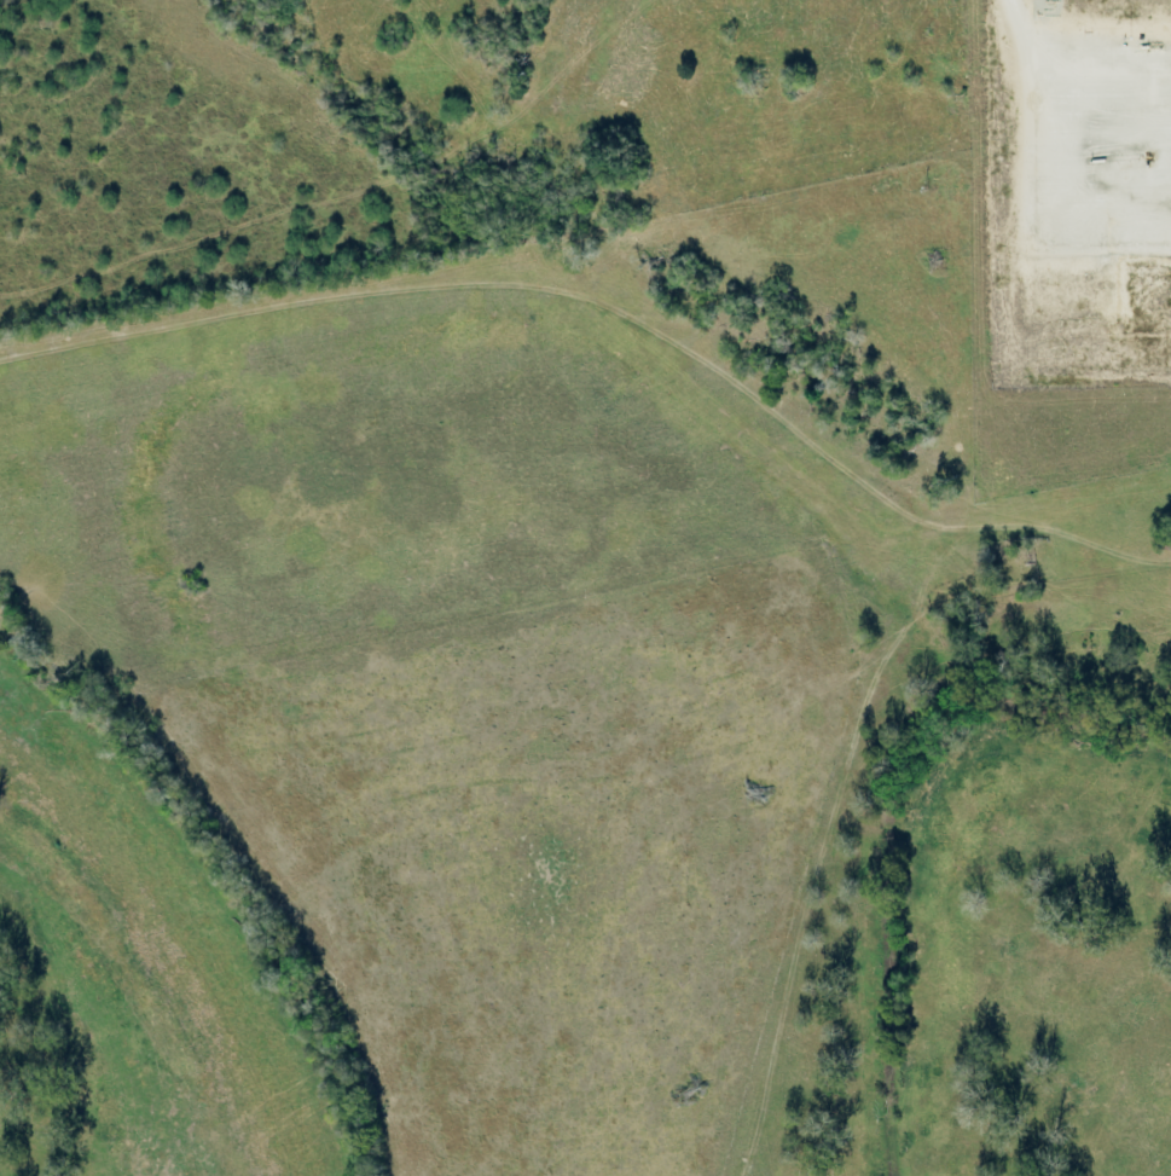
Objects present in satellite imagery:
road: (1015, 16)

